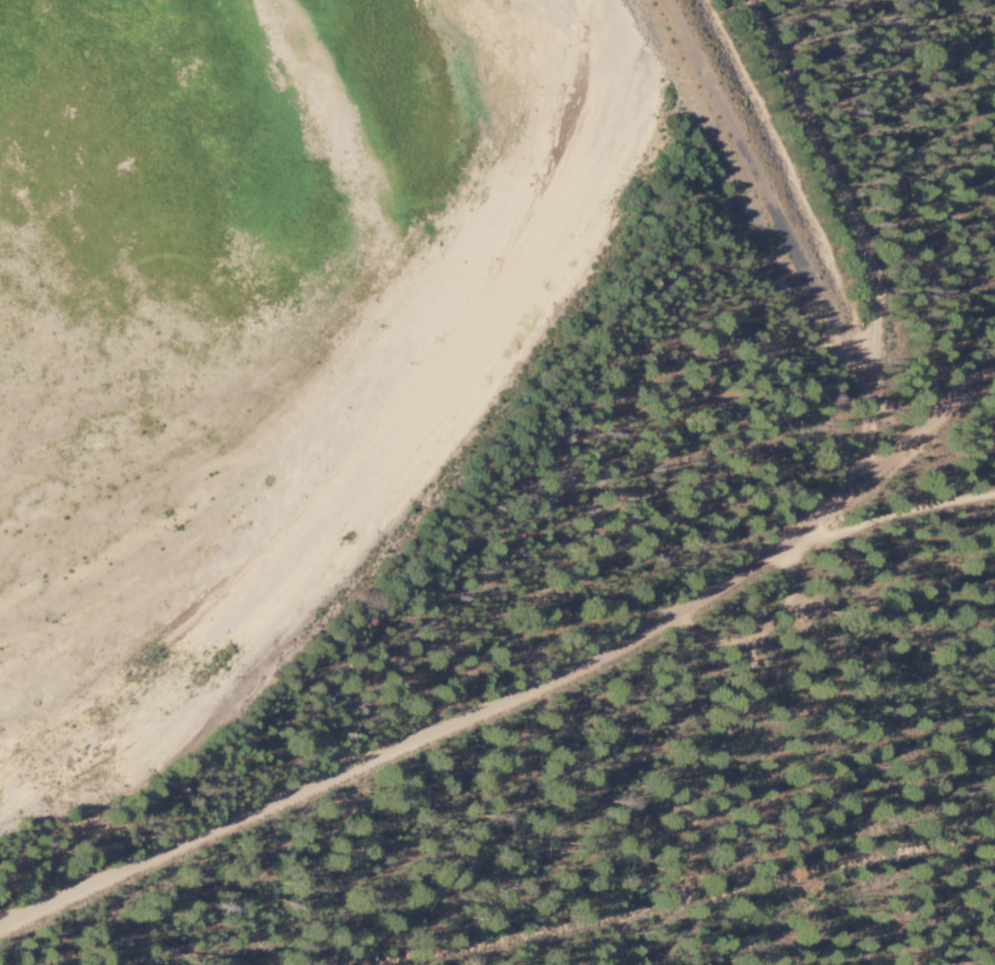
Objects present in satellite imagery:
road: (862, 237)
road: (892, 515)
road: (717, 645)
road: (528, 692)
road: (738, 719)
road: (77, 836)
road: (669, 901)

